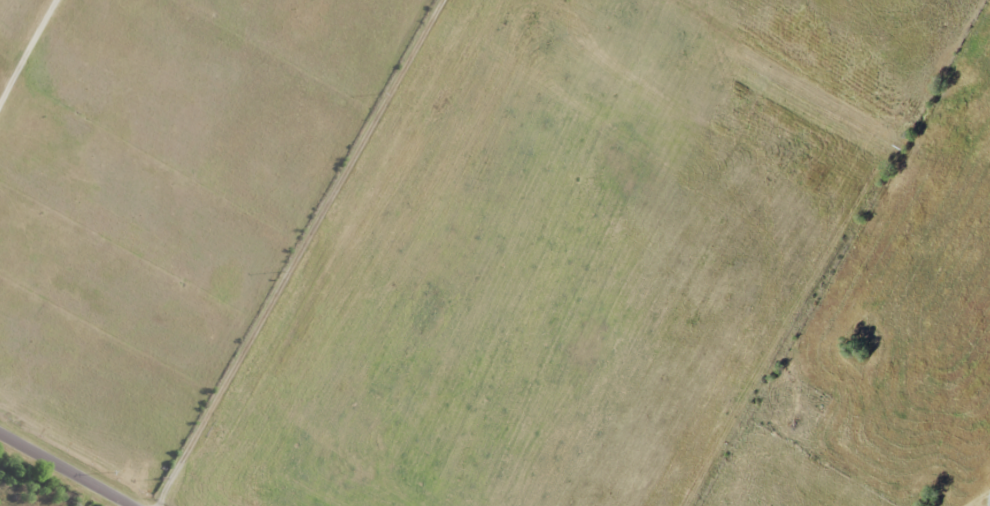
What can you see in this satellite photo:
road: (29, 51)
road: (302, 253)
road: (64, 470)

